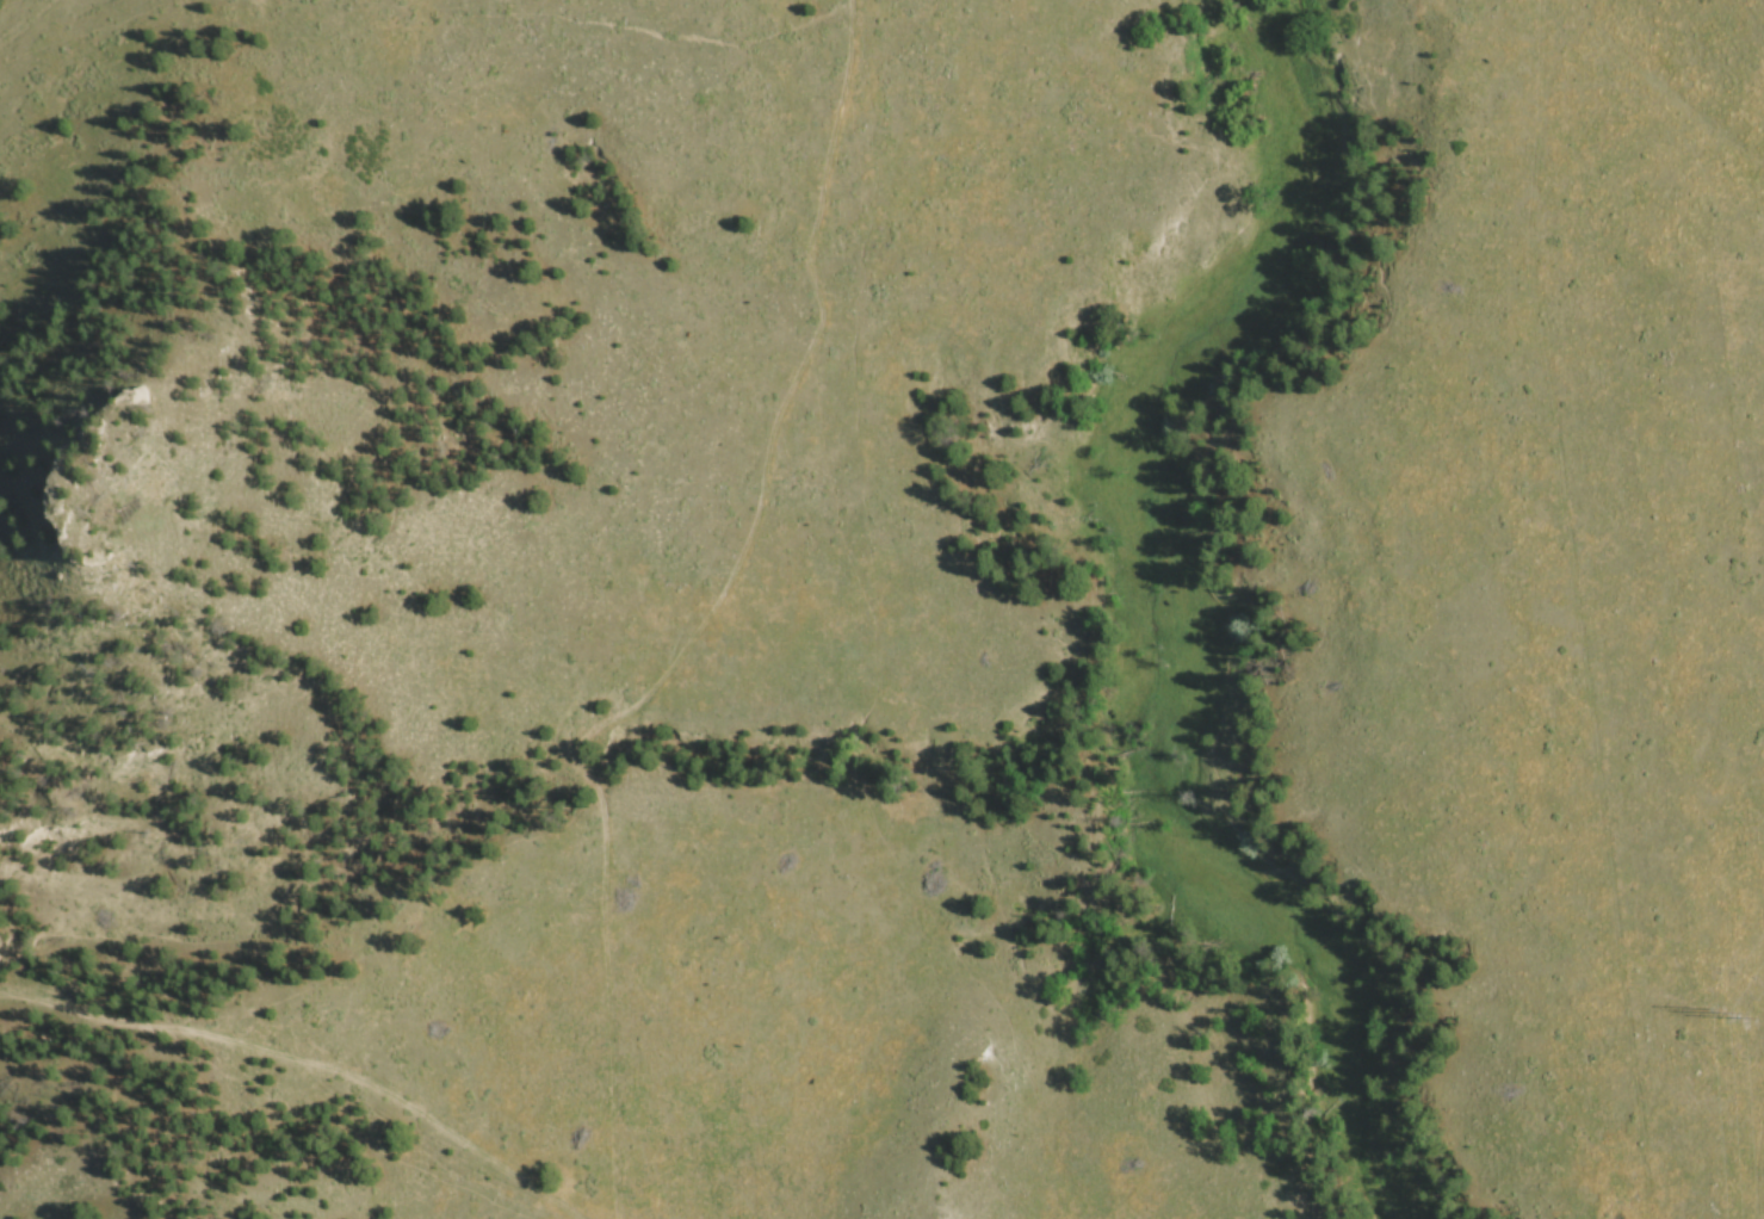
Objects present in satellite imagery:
power tower: (1734, 1015)

